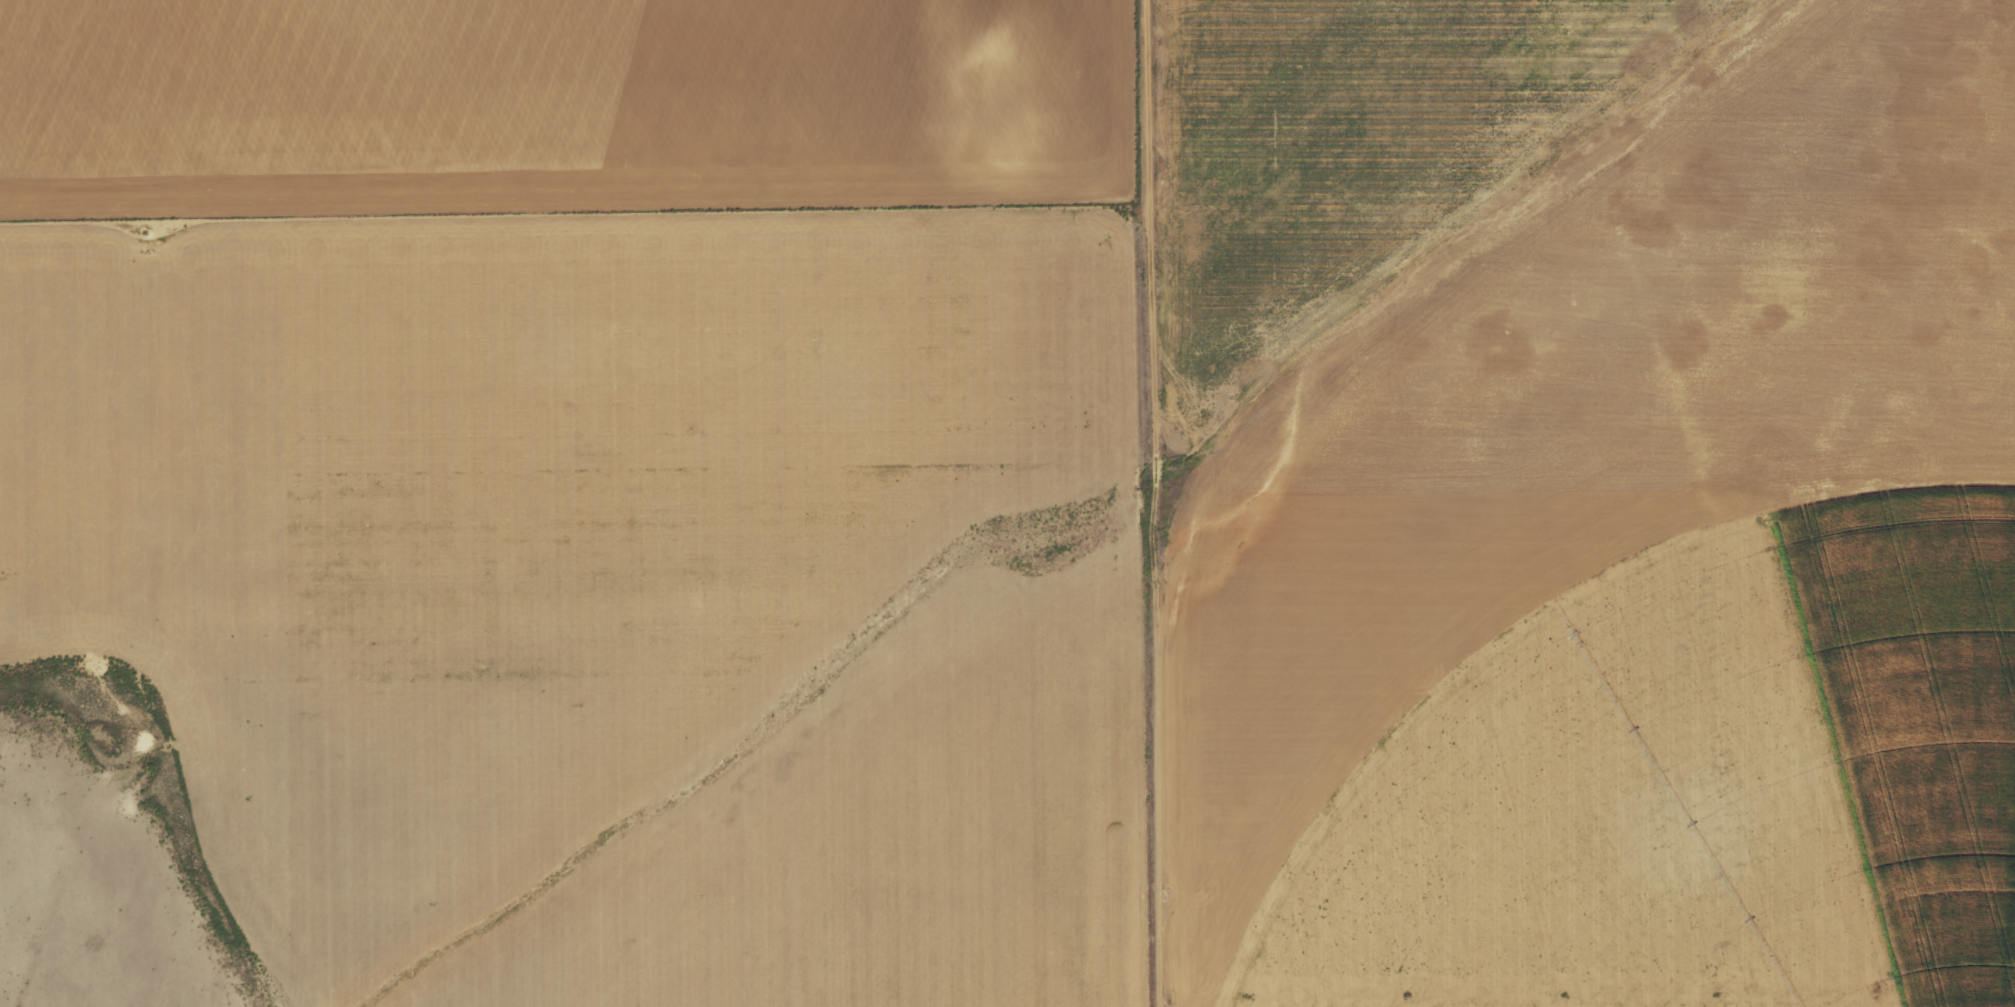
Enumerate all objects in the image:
road: (1148, 503)
road: (1582, 522)

